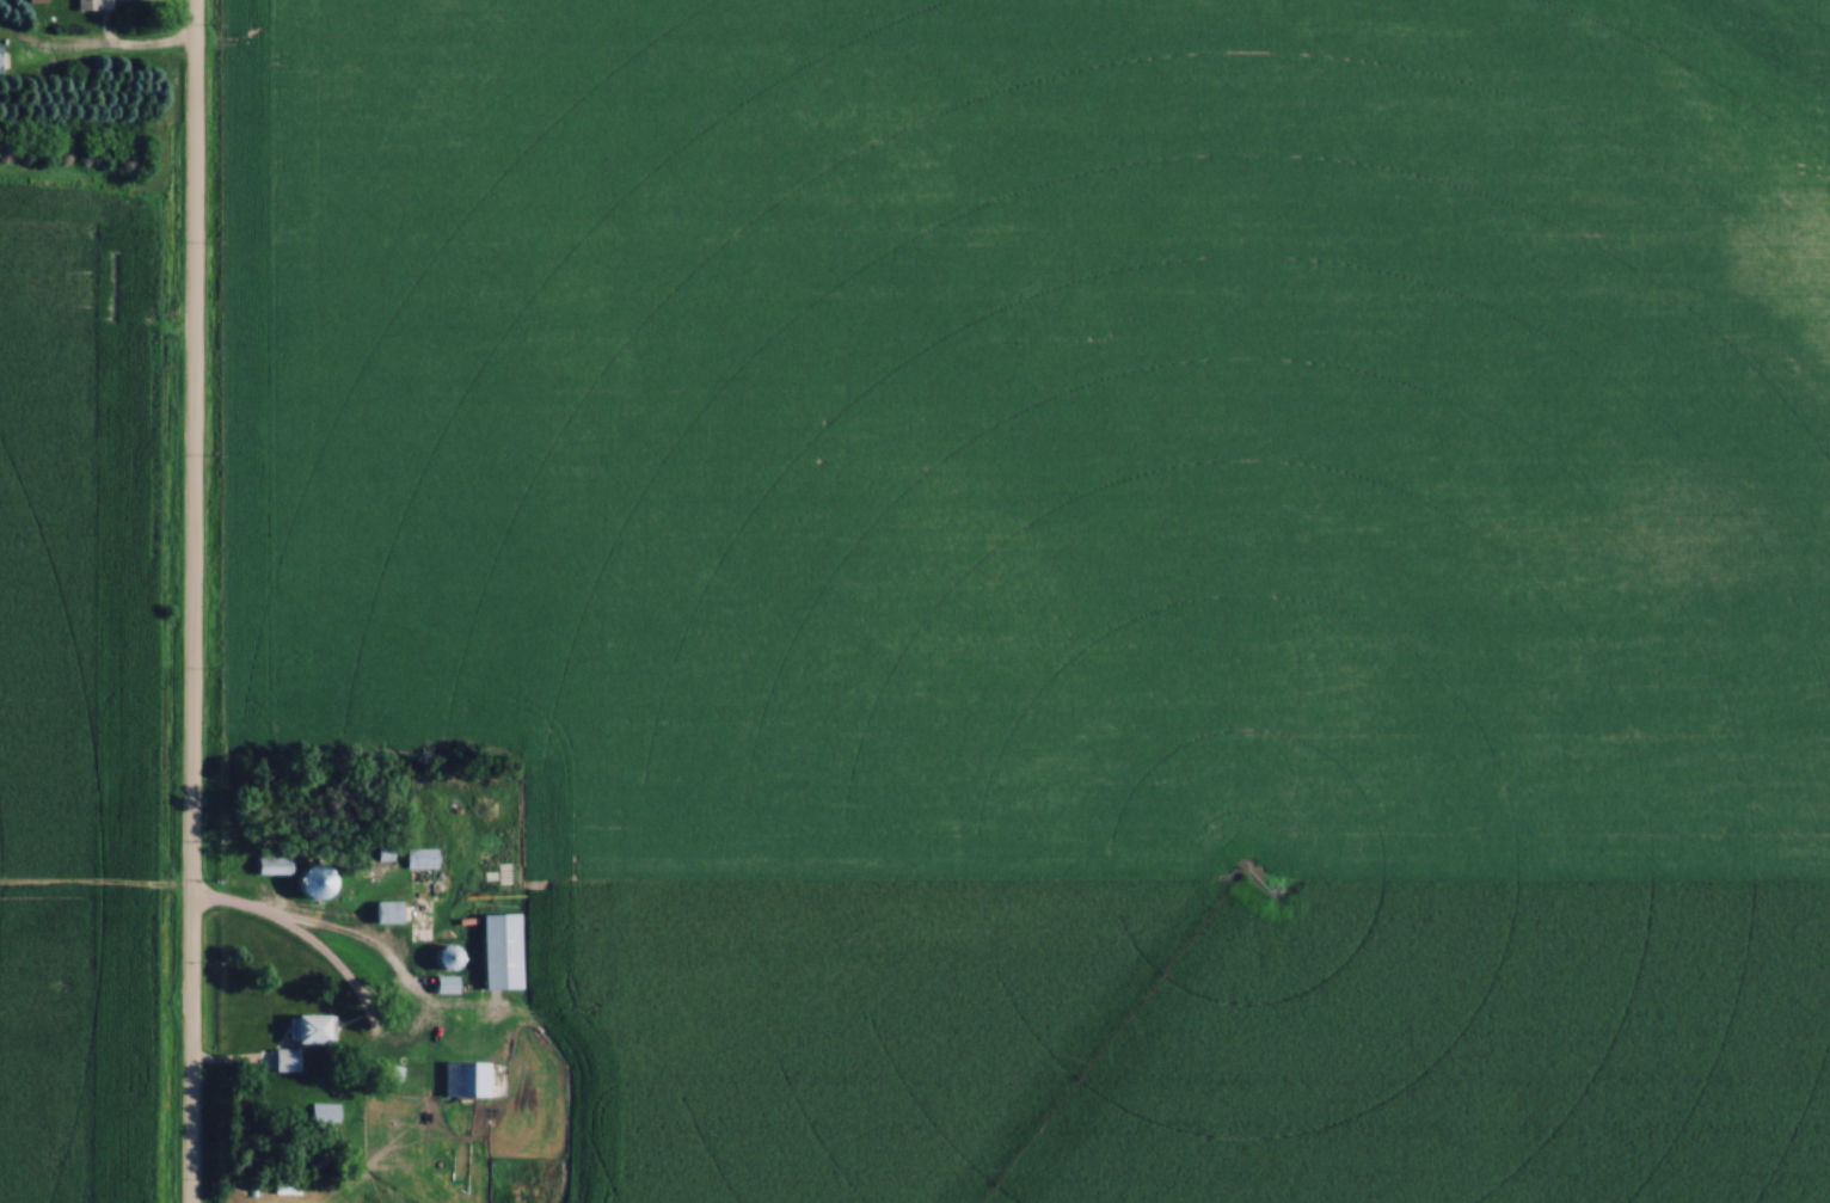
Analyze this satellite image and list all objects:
building: (81, 5)
road: (115, 56)
road: (190, 601)
building: (417, 860)
building: (265, 866)
building: (307, 883)
road: (239, 910)
building: (493, 951)
building: (301, 1029)
road: (413, 1057)
building: (282, 1061)
building: (462, 1080)
building: (323, 1115)
building: (287, 1187)

